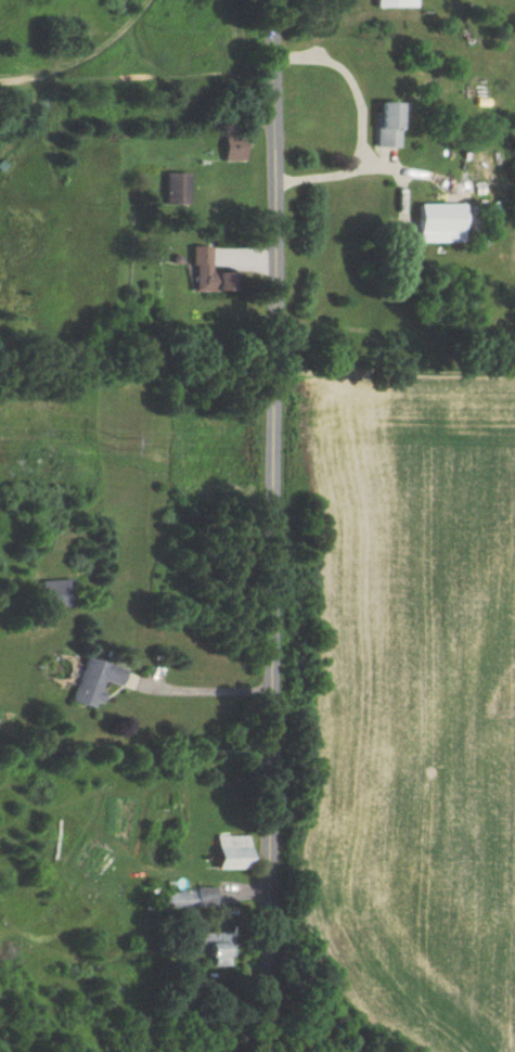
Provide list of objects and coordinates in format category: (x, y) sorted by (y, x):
building: (394, 3)
road: (363, 120)
building: (383, 125)
building: (230, 146)
building: (172, 189)
building: (438, 222)
building: (203, 272)
power tower: (105, 440)
road: (275, 525)
building: (56, 593)
building: (92, 681)
road: (203, 685)
building: (232, 851)
building: (190, 898)
building: (218, 947)

